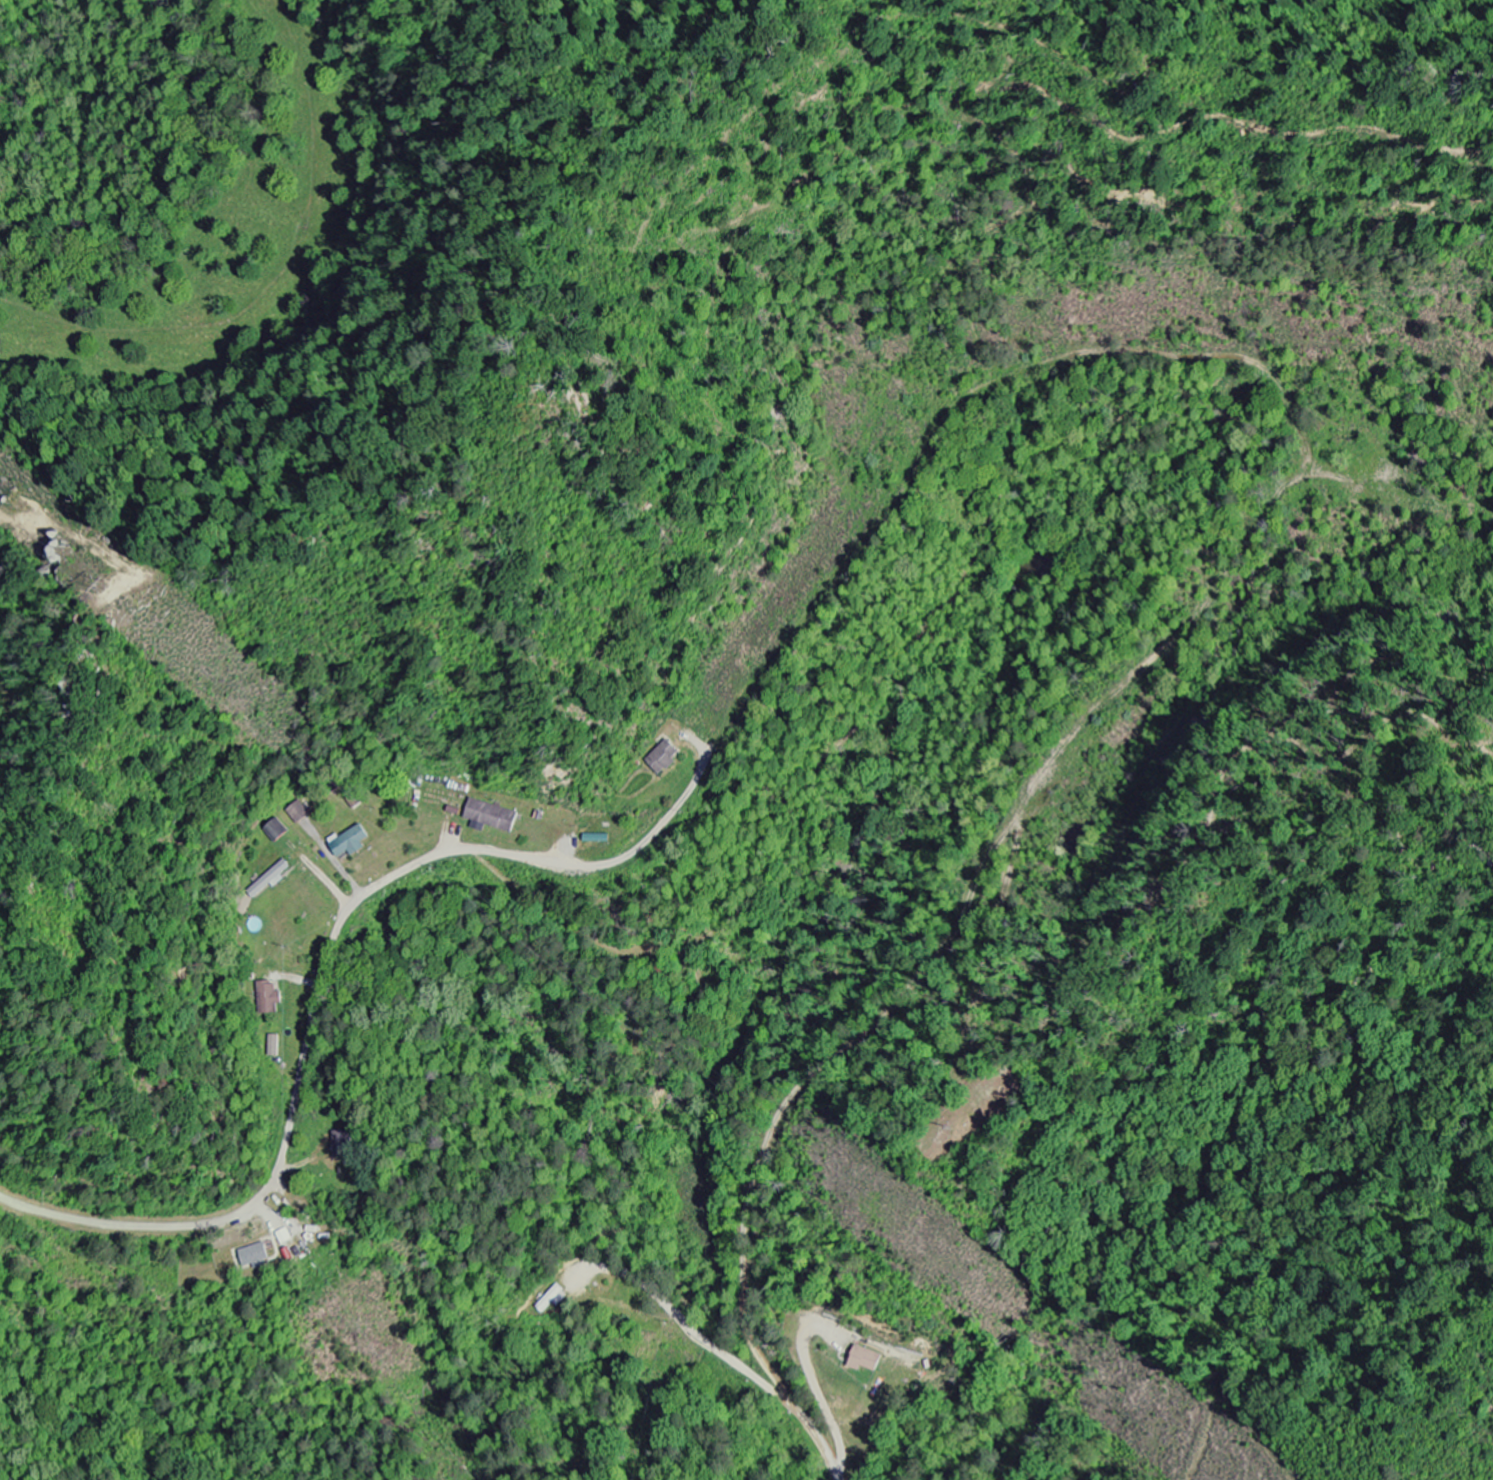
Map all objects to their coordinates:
road: (890, 507)
power tower: (112, 587)
building: (666, 757)
road: (1045, 764)
building: (493, 816)
building: (279, 831)
building: (352, 842)
building: (275, 877)
road: (1086, 988)
building: (272, 997)
building: (276, 1046)
road: (293, 1110)
building: (286, 1237)
building: (258, 1256)
road: (745, 1302)
building: (869, 1360)

